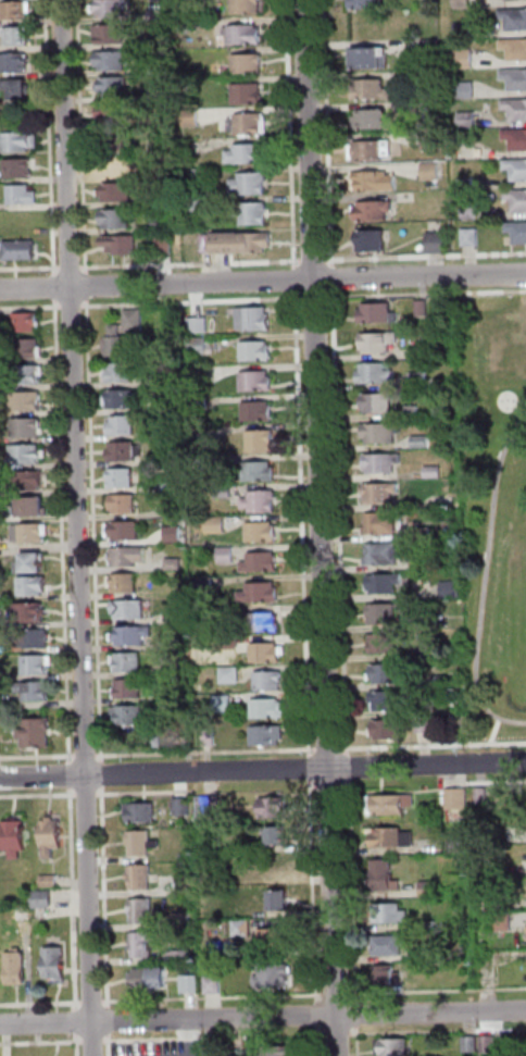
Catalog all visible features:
building: (193, 0)
building: (362, 3)
building: (461, 3)
building: (249, 7)
building: (113, 8)
building: (17, 10)
building: (159, 14)
building: (513, 17)
building: (190, 25)
building: (112, 33)
building: (246, 34)
building: (18, 35)
building: (158, 40)
building: (514, 47)
building: (368, 57)
building: (463, 58)
building: (113, 60)
building: (17, 62)
building: (250, 63)
building: (159, 69)
building: (514, 77)
building: (115, 86)
building: (17, 87)
building: (368, 88)
building: (464, 88)
building: (249, 94)
building: (514, 108)
building: (113, 111)
building: (192, 117)
building: (370, 119)
building: (253, 124)
road: (329, 133)
road: (292, 134)
road: (84, 137)
road: (51, 138)
building: (515, 138)
building: (115, 139)
building: (21, 140)
road: (68, 144)
building: (366, 149)
building: (248, 153)
building: (114, 165)
building: (21, 167)
building: (515, 167)
building: (428, 171)
building: (164, 174)
building: (193, 176)
building: (372, 179)
building: (251, 184)
building: (118, 191)
building: (160, 195)
building: (24, 196)
building: (515, 196)
building: (196, 206)
building: (371, 209)
building: (255, 213)
building: (117, 219)
building: (163, 224)
building: (516, 229)
building: (467, 236)
building: (368, 238)
building: (434, 240)
building: (243, 243)
building: (122, 244)
building: (165, 245)
building: (21, 250)
road: (426, 256)
road: (315, 260)
road: (192, 264)
road: (72, 268)
road: (30, 269)
road: (334, 278)
road: (299, 279)
road: (298, 281)
road: (88, 286)
road: (57, 287)
road: (36, 288)
road: (426, 294)
road: (316, 298)
road: (193, 302)
road: (73, 307)
road: (30, 308)
building: (424, 308)
building: (378, 313)
building: (254, 319)
building: (135, 320)
building: (27, 322)
building: (200, 325)
building: (379, 341)
building: (120, 344)
building: (200, 345)
building: (29, 348)
building: (256, 351)
building: (121, 373)
building: (29, 374)
building: (376, 374)
building: (200, 375)
building: (163, 377)
building: (421, 380)
building: (258, 382)
building: (124, 399)
road: (522, 400)
building: (27, 401)
building: (167, 403)
building: (202, 403)
building: (378, 403)
building: (259, 411)
building: (414, 411)
building: (123, 425)
building: (28, 427)
building: (170, 433)
building: (383, 433)
building: (202, 435)
building: (262, 442)
building: (423, 443)
building: (124, 451)
building: (26, 455)
building: (173, 459)
building: (384, 462)
building: (260, 472)
building: (435, 472)
building: (123, 479)
building: (30, 481)
building: (172, 486)
building: (225, 490)
building: (381, 493)
building: (261, 502)
building: (125, 504)
building: (34, 507)
building: (174, 511)
park: (493, 511)
road: (342, 523)
building: (383, 524)
building: (217, 525)
road: (304, 525)
road: (325, 527)
road: (96, 531)
building: (125, 531)
road: (64, 532)
road: (79, 532)
building: (263, 532)
building: (30, 533)
building: (423, 533)
building: (175, 534)
building: (385, 554)
building: (228, 555)
building: (129, 556)
building: (422, 561)
building: (262, 562)
building: (32, 564)
building: (176, 564)
road: (485, 581)
building: (206, 583)
building: (126, 584)
building: (386, 584)
building: (34, 586)
building: (453, 588)
building: (261, 593)
building: (130, 610)
building: (30, 612)
building: (230, 612)
building: (385, 614)
building: (177, 617)
building: (1, 621)
building: (262, 623)
building: (134, 635)
building: (38, 639)
building: (231, 644)
building: (385, 644)
building: (268, 653)
building: (435, 655)
building: (130, 662)
building: (38, 664)
building: (176, 669)
building: (388, 673)
building: (231, 675)
building: (270, 681)
building: (443, 681)
building: (129, 688)
building: (36, 692)
building: (389, 701)
building: (225, 704)
building: (452, 706)
building: (268, 709)
building: (0, 710)
building: (130, 715)
building: (426, 725)
building: (390, 730)
road: (492, 731)
building: (37, 734)
building: (268, 735)
building: (210, 737)
building: (158, 740)
building: (1, 744)
road: (434, 746)
road: (330, 749)
road: (209, 751)
road: (87, 755)
road: (38, 756)
road: (350, 768)
road: (305, 769)
road: (312, 769)
road: (71, 770)
road: (104, 774)
road: (483, 775)
road: (42, 777)
road: (504, 782)
road: (184, 784)
road: (348, 785)
road: (316, 786)
road: (333, 786)
road: (141, 793)
road: (93, 794)
building: (483, 796)
building: (459, 799)
building: (391, 805)
building: (209, 806)
building: (183, 807)
building: (273, 808)
building: (141, 813)
building: (278, 836)
building: (52, 837)
building: (391, 838)
building: (15, 840)
building: (142, 844)
building: (460, 845)
building: (258, 846)
building: (186, 857)
building: (270, 869)
building: (386, 877)
building: (141, 878)
building: (225, 880)
building: (51, 881)
building: (188, 886)
building: (430, 889)
road: (355, 891)
road: (315, 892)
road: (107, 897)
road: (91, 898)
building: (45, 899)
building: (280, 902)
building: (496, 904)
building: (142, 911)
building: (23, 914)
building: (391, 914)
building: (184, 920)
building: (503, 922)
building: (430, 927)
building: (243, 928)
building: (275, 939)
building: (143, 945)
building: (390, 945)
building: (184, 956)
building: (429, 956)
building: (57, 965)
building: (17, 969)
building: (275, 977)
building: (390, 977)
building: (143, 979)
building: (160, 979)
building: (214, 984)
building: (192, 985)
road: (437, 991)
road: (338, 994)
road: (215, 997)
road: (99, 1002)
road: (359, 1015)
road: (310, 1016)
road: (318, 1016)
road: (47, 1022)
road: (111, 1022)
road: (79, 1028)
road: (439, 1031)
road: (339, 1033)
road: (324, 1034)
road: (192, 1038)
road: (96, 1039)
road: (149, 1040)
road: (95, 1041)
road: (360, 1041)
road: (42, 1042)
road: (320, 1042)
road: (79, 1044)
building: (472, 1044)
building: (490, 1044)
road: (111, 1045)
parking lot: (161, 1048)
building: (394, 1048)
building: (214, 1051)
building: (279, 1052)

